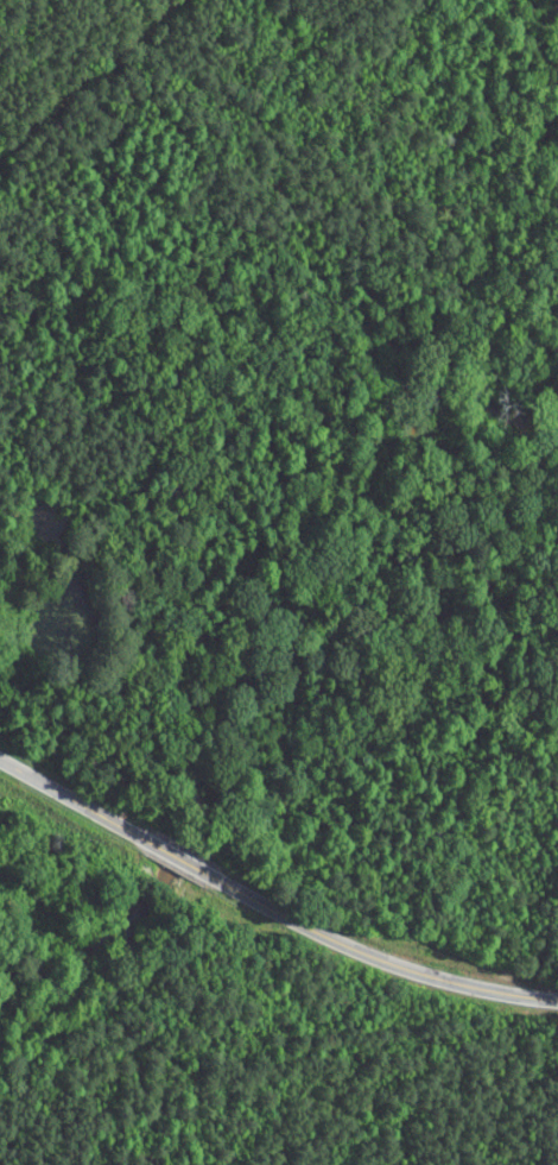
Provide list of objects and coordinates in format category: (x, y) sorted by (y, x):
road: (75, 800)
road: (183, 858)
road: (379, 953)

